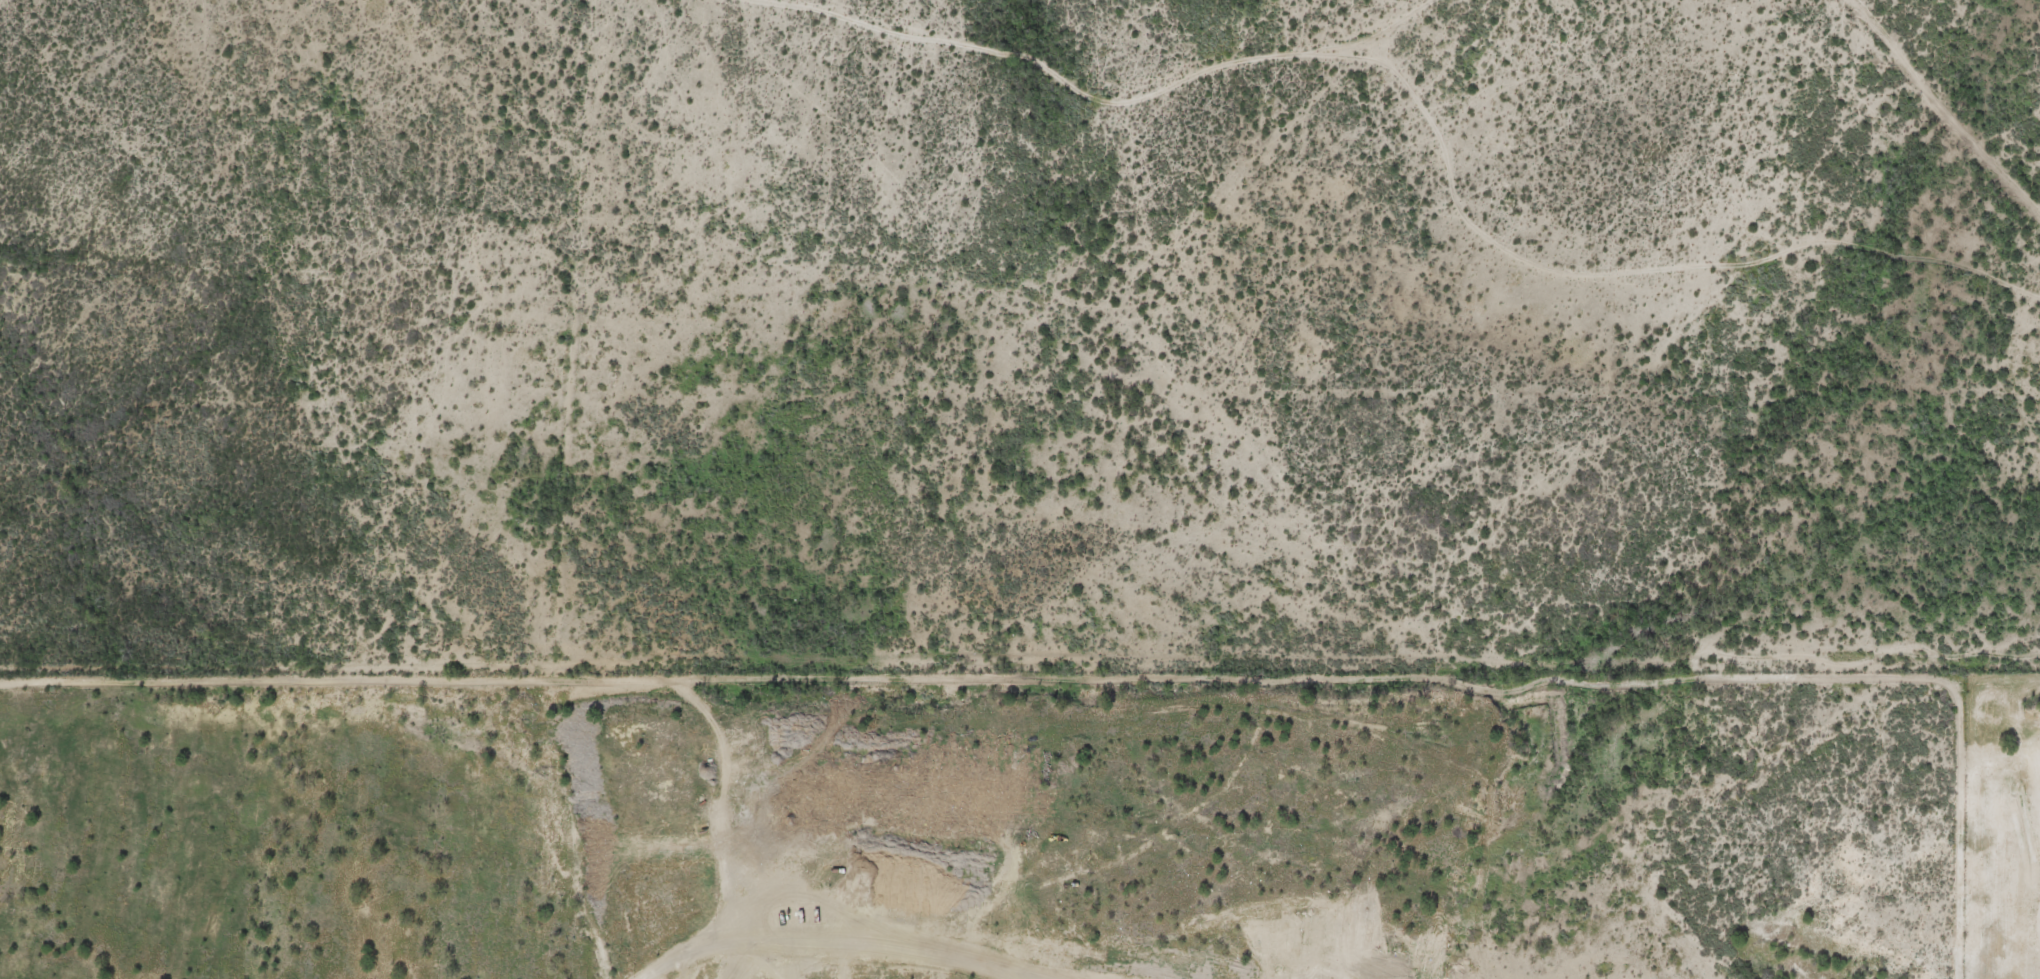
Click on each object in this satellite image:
road: (1099, 104)
road: (1945, 110)
road: (1635, 258)
road: (1624, 475)
road: (1421, 635)

